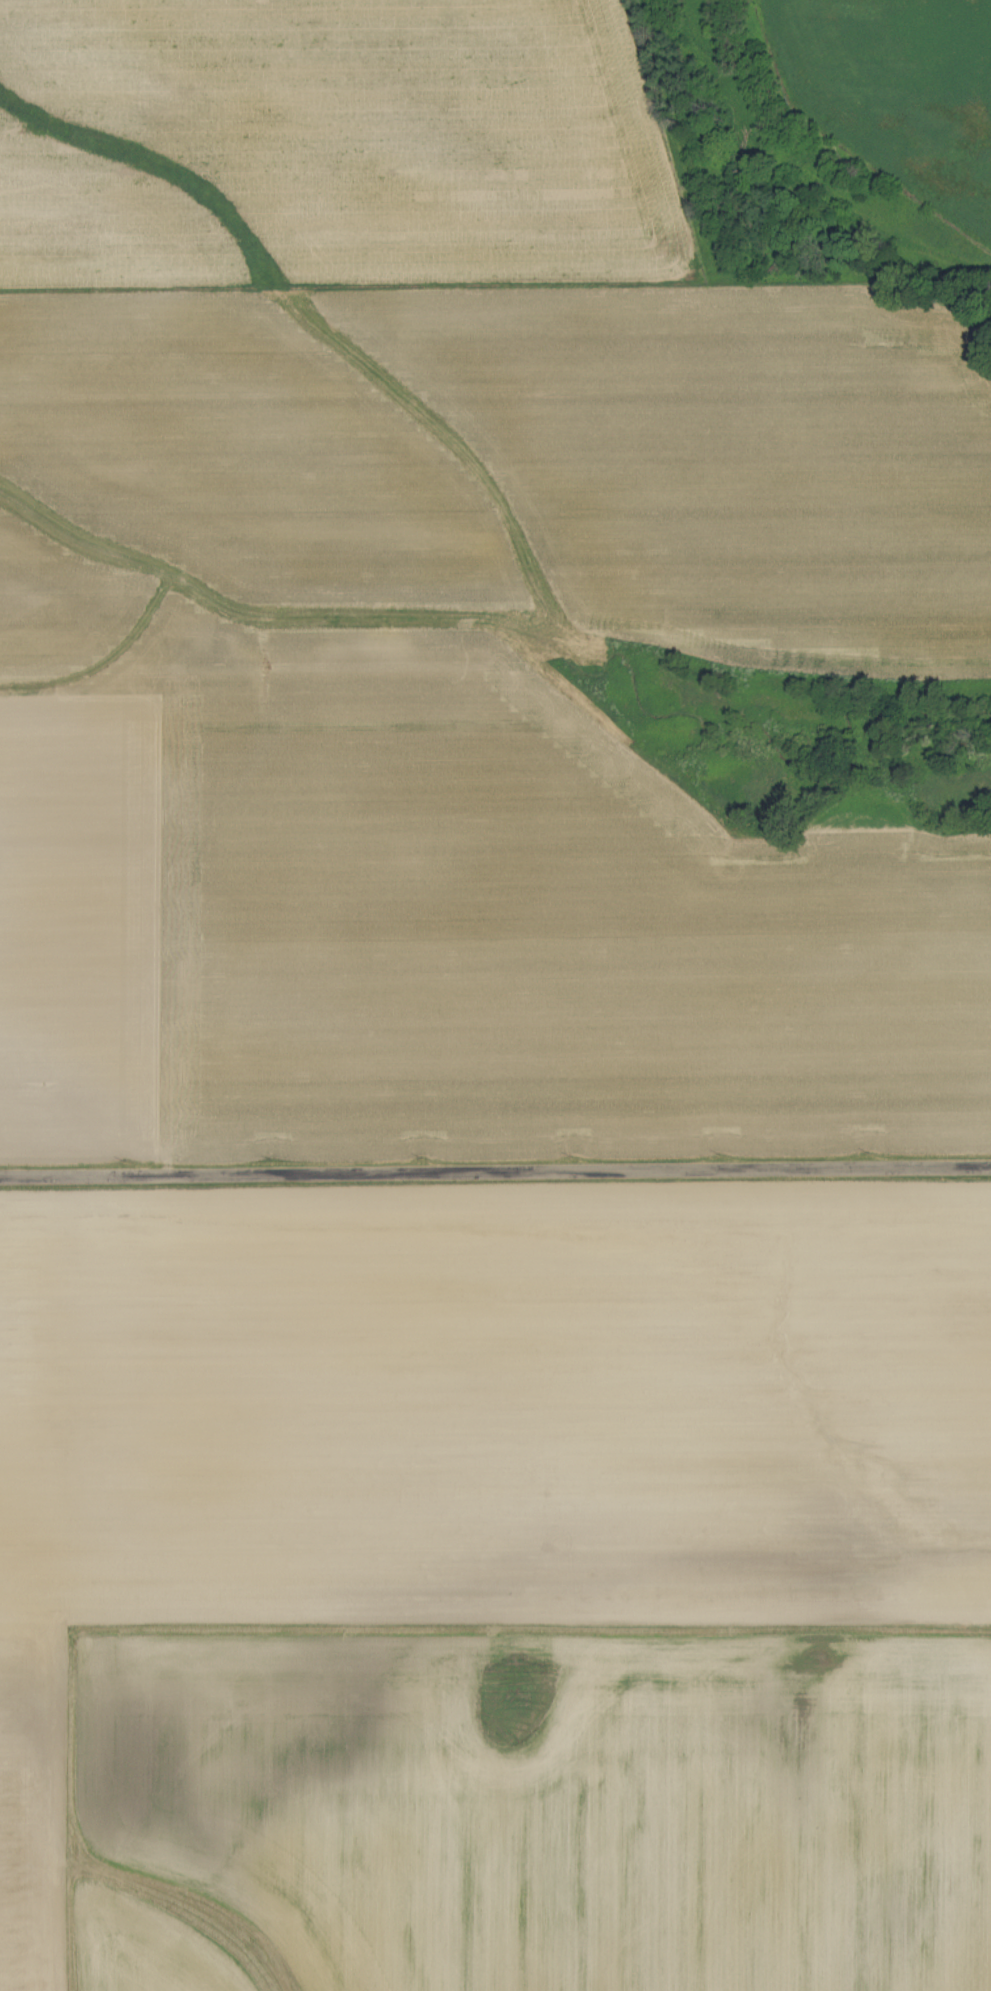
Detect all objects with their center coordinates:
road: (495, 1174)

